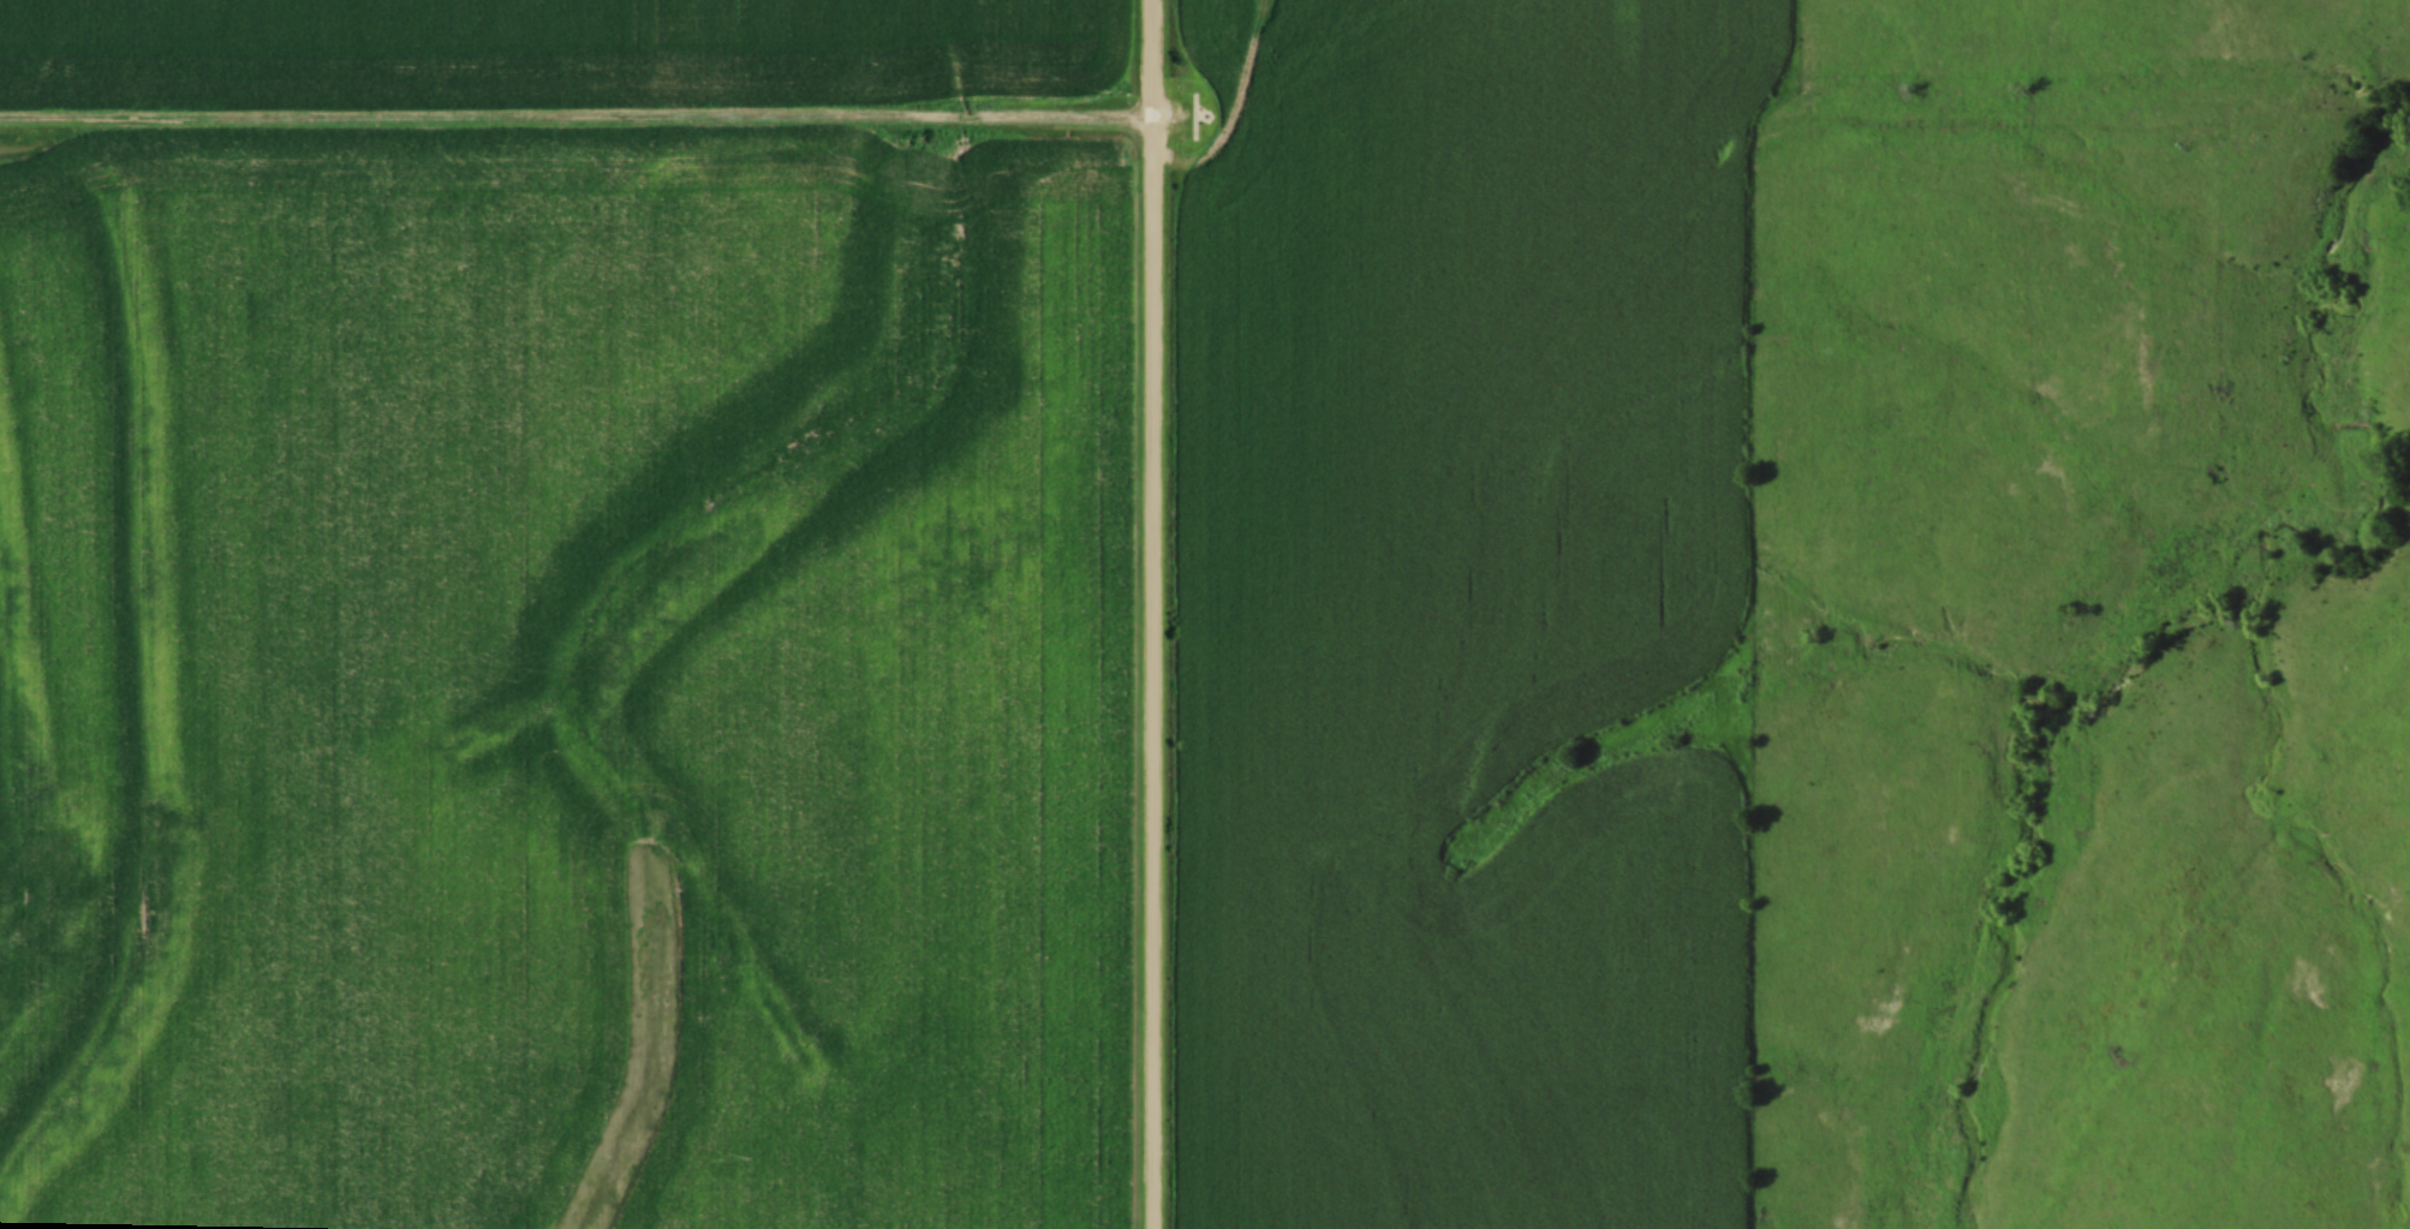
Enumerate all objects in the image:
road: (1155, 59)
road: (577, 115)
road: (1155, 673)

